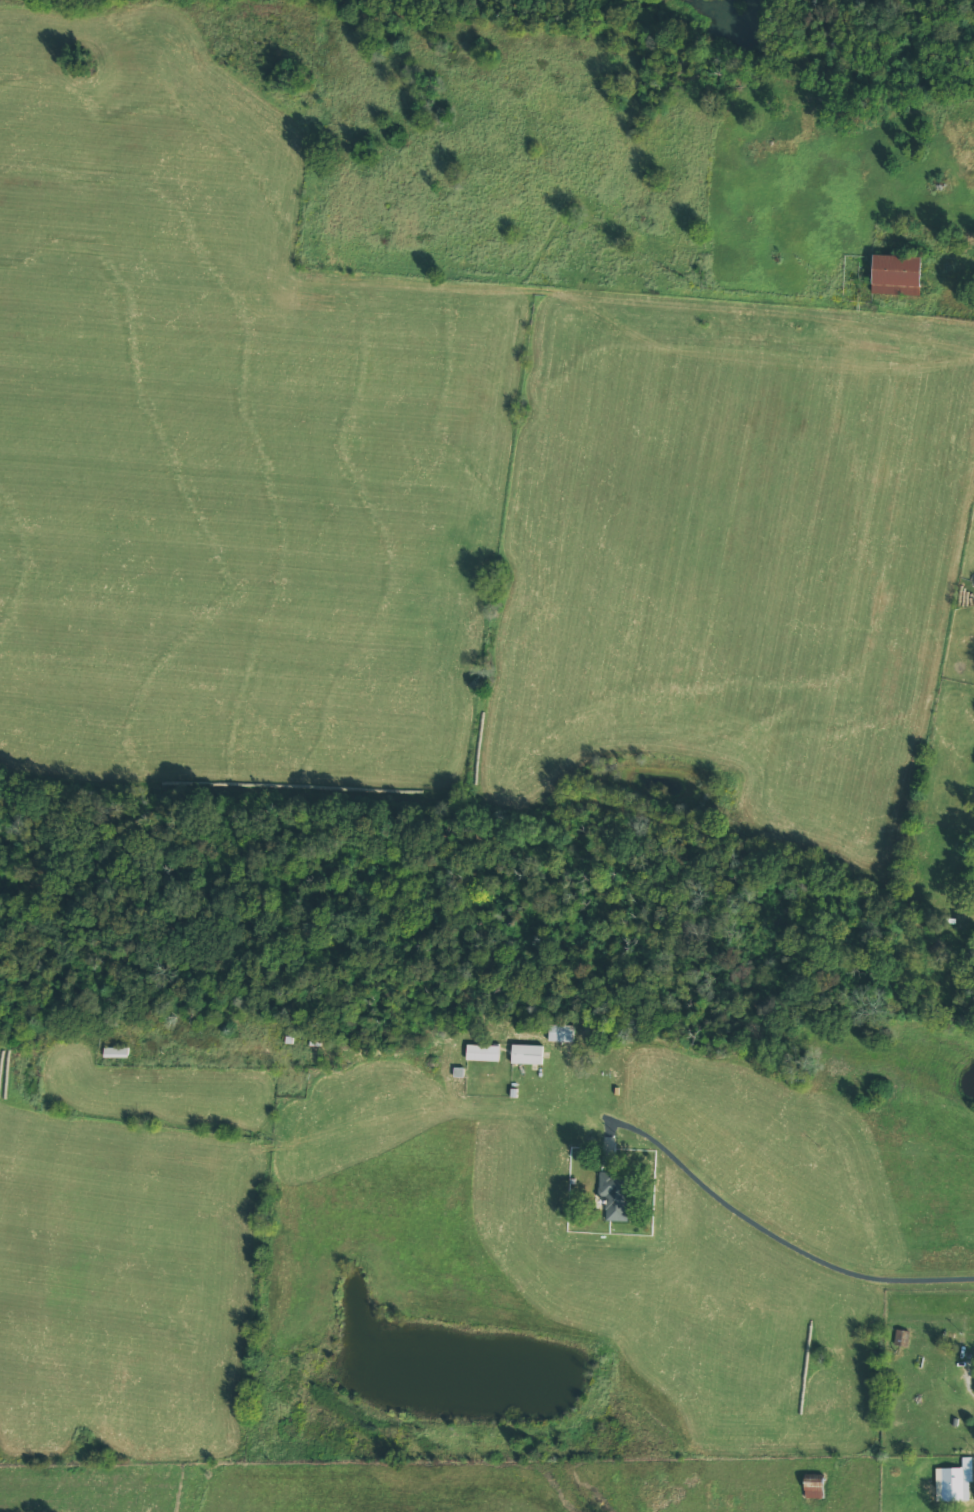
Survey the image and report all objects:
building: (895, 274)
building: (560, 1033)
building: (483, 1053)
building: (527, 1054)
building: (459, 1073)
building: (615, 1197)
building: (956, 1481)

